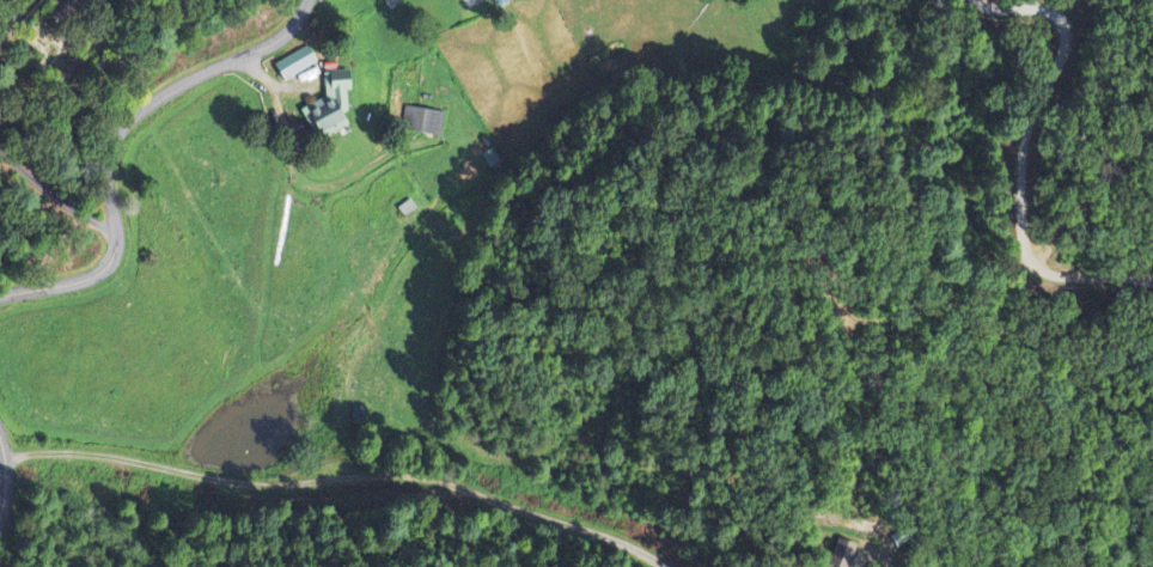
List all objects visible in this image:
building: (499, 1)
building: (293, 65)
building: (328, 108)
building: (421, 122)
road: (99, 145)
road: (1023, 159)
road: (16, 470)
building: (844, 555)

